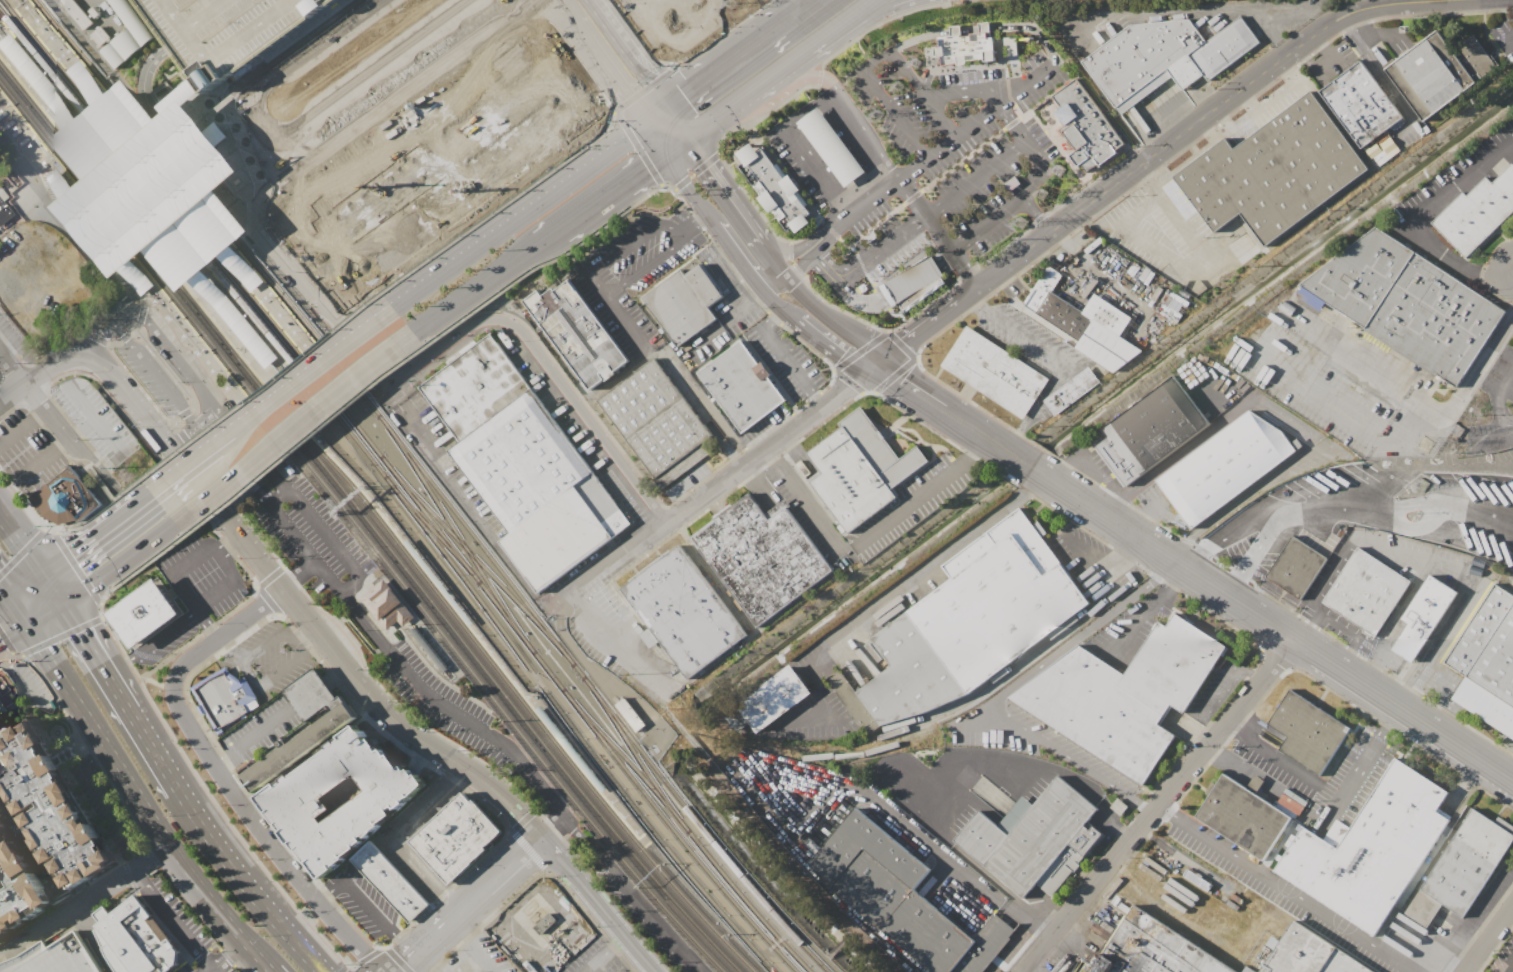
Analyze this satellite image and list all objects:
road: (944, 1)
road: (907, 2)
power tower: (733, 4)
railway: (5, 6)
road: (800, 7)
road: (1205, 7)
building: (78, 12)
road: (858, 14)
railway: (2, 15)
road: (182, 15)
road: (213, 15)
road: (870, 15)
road: (877, 22)
building: (670, 24)
building: (983, 27)
building: (953, 28)
road: (963, 28)
building: (227, 30)
parking lot: (227, 30)
road: (1374, 34)
building: (97, 35)
building: (124, 35)
road: (825, 39)
road: (242, 40)
building: (287, 41)
road: (83, 42)
road: (1507, 45)
road: (6, 46)
building: (963, 47)
building: (1171, 52)
road: (269, 53)
road: (634, 54)
road: (63, 55)
road: (228, 55)
road: (746, 55)
road: (604, 63)
road: (681, 63)
power tower: (918, 63)
road: (1325, 63)
building: (356, 67)
building: (1438, 67)
road: (1294, 69)
road: (782, 70)
road: (39, 73)
road: (821, 75)
road: (27, 82)
power tower: (902, 86)
road: (644, 88)
road: (1392, 88)
road: (925, 90)
road: (1234, 92)
road: (142, 94)
road: (127, 95)
traffic signals: (626, 95)
road: (842, 96)
traffic signals: (686, 100)
road: (831, 103)
building: (1360, 103)
road: (808, 106)
road: (1270, 108)
road: (894, 112)
road: (763, 113)
road: (722, 114)
road: (839, 115)
power tower: (880, 115)
road: (809, 118)
road: (1226, 118)
road: (659, 119)
road: (206, 120)
road: (680, 125)
building: (1092, 126)
road: (849, 128)
road: (792, 129)
road: (818, 130)
road: (1212, 133)
road: (801, 141)
road: (657, 142)
road: (828, 143)
road: (860, 143)
building: (1387, 145)
road: (942, 146)
road: (636, 147)
road: (678, 147)
building: (830, 147)
parking lot: (961, 147)
road: (230, 148)
road: (1034, 150)
road: (811, 155)
road: (870, 157)
road: (839, 158)
building: (435, 163)
traffic signals: (708, 165)
road: (241, 166)
road: (44, 169)
railway: (174, 169)
road: (813, 169)
building: (1273, 169)
traffic signals: (646, 170)
road: (698, 170)
road: (822, 170)
road: (47, 171)
road: (849, 172)
power tower: (1059, 172)
road: (977, 175)
road: (1153, 179)
railway: (153, 183)
road: (833, 184)
road: (1457, 184)
road: (1133, 185)
building: (149, 187)
building: (774, 188)
railway: (146, 189)
road: (690, 190)
road: (726, 191)
road: (613, 193)
power tower: (1044, 193)
railway: (144, 194)
building: (2, 195)
road: (498, 210)
road: (926, 211)
building: (1478, 211)
road: (1035, 212)
building: (4, 213)
road: (695, 222)
road: (515, 223)
power tower: (1024, 225)
road: (1187, 226)
road: (65, 228)
road: (905, 230)
road: (103, 231)
road: (95, 238)
railway: (141, 239)
road: (549, 239)
road: (633, 242)
road: (1145, 242)
road: (797, 245)
railway: (137, 252)
road: (812, 253)
road: (944, 254)
road: (740, 258)
road: (775, 260)
road: (860, 261)
railway: (136, 262)
road: (541, 263)
road: (826, 263)
road: (1463, 263)
road: (968, 264)
road: (646, 265)
road: (1002, 266)
road: (1480, 273)
road: (909, 277)
road: (252, 280)
road: (1510, 281)
building: (913, 283)
road: (777, 284)
road: (596, 285)
road: (148, 294)
road: (470, 296)
road: (773, 297)
road: (858, 297)
road: (971, 298)
road: (226, 299)
road: (146, 300)
building: (1410, 301)
building: (684, 303)
building: (1074, 307)
road: (776, 308)
road: (213, 309)
road: (794, 315)
road: (131, 316)
road: (732, 317)
road: (838, 318)
road: (625, 325)
road: (914, 332)
building: (577, 335)
traffic signals: (905, 339)
road: (164, 340)
parking lot: (1027, 342)
road: (99, 343)
parking lot: (677, 346)
road: (839, 350)
road: (780, 352)
traffic signals: (843, 353)
railway: (304, 354)
road: (1056, 356)
road: (5, 361)
road: (62, 362)
road: (1477, 365)
road: (551, 368)
road: (1370, 371)
building: (994, 372)
road: (157, 378)
parking lot: (155, 379)
traffic signals: (894, 379)
road: (897, 381)
road: (849, 385)
road: (397, 386)
building: (742, 386)
traffic signals: (849, 386)
road: (21, 388)
road: (267, 388)
building: (1069, 389)
road: (286, 393)
road: (205, 394)
road: (79, 399)
road: (819, 399)
road: (130, 401)
road: (1497, 407)
road: (44, 409)
road: (1346, 409)
road: (710, 411)
road: (39, 414)
road: (1282, 418)
parking lot: (95, 420)
building: (659, 423)
road: (297, 427)
road: (969, 427)
road: (81, 428)
building: (1151, 429)
road: (16, 430)
road: (106, 432)
power tower: (1459, 432)
road: (1484, 432)
road: (306, 437)
road: (184, 438)
road: (1011, 441)
road: (62, 443)
power tower: (1428, 447)
railway: (326, 448)
road: (971, 450)
road: (1046, 450)
parking lot: (27, 452)
road: (765, 455)
road: (89, 463)
building: (522, 463)
building: (1225, 464)
road: (1027, 465)
road: (35, 466)
road: (102, 470)
building: (859, 470)
road: (1398, 474)
road: (180, 475)
power tower: (1424, 486)
road: (92, 488)
road: (6, 489)
road: (117, 496)
road: (1469, 498)
building: (65, 499)
road: (803, 505)
road: (685, 507)
road: (909, 507)
road: (467, 508)
road: (988, 516)
road: (1254, 517)
road: (1404, 517)
road: (45, 524)
road: (103, 527)
road: (1141, 527)
railway: (432, 530)
railway: (455, 532)
road: (11, 534)
road: (1277, 535)
road: (154, 536)
road: (334, 543)
road: (228, 544)
road: (23, 548)
road: (1392, 548)
traffic signals: (71, 552)
road: (1201, 553)
road: (186, 556)
building: (762, 557)
railway: (476, 559)
road: (148, 560)
road: (30, 561)
road: (74, 565)
road: (1092, 565)
building: (1296, 566)
road: (298, 576)
road: (1169, 583)
road: (21, 584)
road: (86, 584)
road: (1232, 584)
road: (47, 588)
building: (1366, 591)
road: (2, 592)
road: (585, 593)
road: (2, 596)
road: (216, 596)
road: (1458, 598)
road: (1280, 604)
building: (386, 605)
road: (14, 609)
parking lot: (349, 610)
building: (682, 610)
road: (100, 611)
road: (40, 613)
building: (144, 614)
building: (1423, 615)
building: (971, 621)
road: (205, 624)
road: (1131, 625)
road: (1306, 626)
road: (352, 627)
road: (1274, 627)
road: (298, 629)
railway: (465, 629)
road: (11, 630)
traffic signals: (74, 632)
road: (32, 633)
road: (165, 633)
road: (1352, 633)
road: (115, 634)
road: (1076, 634)
road: (57, 635)
road: (77, 637)
traffic signals: (0, 638)
road: (213, 639)
road: (309, 643)
road: (7, 644)
building: (1488, 644)
road: (626, 646)
railway: (569, 657)
road: (391, 658)
road: (812, 659)
road: (1368, 663)
railway: (543, 665)
road: (119, 666)
railway: (528, 668)
building: (0, 673)
road: (1250, 673)
road: (249, 675)
road: (1434, 681)
road: (1400, 685)
road: (1218, 690)
road: (113, 691)
road: (365, 692)
building: (1123, 694)
building: (4, 697)
railway: (505, 697)
building: (773, 697)
building: (225, 699)
railway: (494, 700)
road: (1390, 717)
road: (974, 721)
road: (1208, 723)
road: (1223, 726)
road: (1232, 726)
road: (259, 727)
building: (1307, 731)
building: (294, 749)
road: (151, 752)
road: (93, 753)
railway: (634, 753)
road: (219, 755)
road: (1067, 755)
road: (1277, 757)
railway: (623, 758)
road: (957, 772)
road: (462, 775)
road: (1350, 775)
road: (1012, 777)
road: (1260, 780)
road: (1092, 791)
building: (337, 797)
building: (46, 804)
road: (144, 805)
road: (1144, 805)
road: (952, 810)
road: (112, 812)
building: (1242, 816)
building: (2, 820)
building: (2, 826)
road: (401, 832)
building: (454, 837)
building: (1036, 840)
road: (271, 845)
road: (929, 846)
building: (1372, 847)
road: (153, 853)
building: (1467, 861)
road: (563, 862)
road: (619, 875)
building: (388, 882)
building: (16, 885)
road: (242, 885)
road: (1283, 888)
road: (1085, 891)
road: (325, 896)
road: (480, 896)
building: (899, 898)
road: (451, 901)
road: (364, 902)
railway: (745, 902)
road: (114, 903)
road: (68, 909)
railway: (696, 912)
road: (176, 919)
road: (618, 928)
road: (469, 935)
building: (133, 938)
road: (1487, 938)
road: (91, 939)
road: (615, 939)
road: (404, 943)
road: (381, 948)
building: (1152, 949)
road: (226, 950)
building: (1308, 954)
building: (52, 957)
road: (594, 958)
parking lot: (597, 960)
road: (474, 962)
road: (493, 962)
road: (407, 963)
road: (1508, 964)
road: (266, 965)
road: (206, 967)
building: (478, 971)
road: (652, 971)

